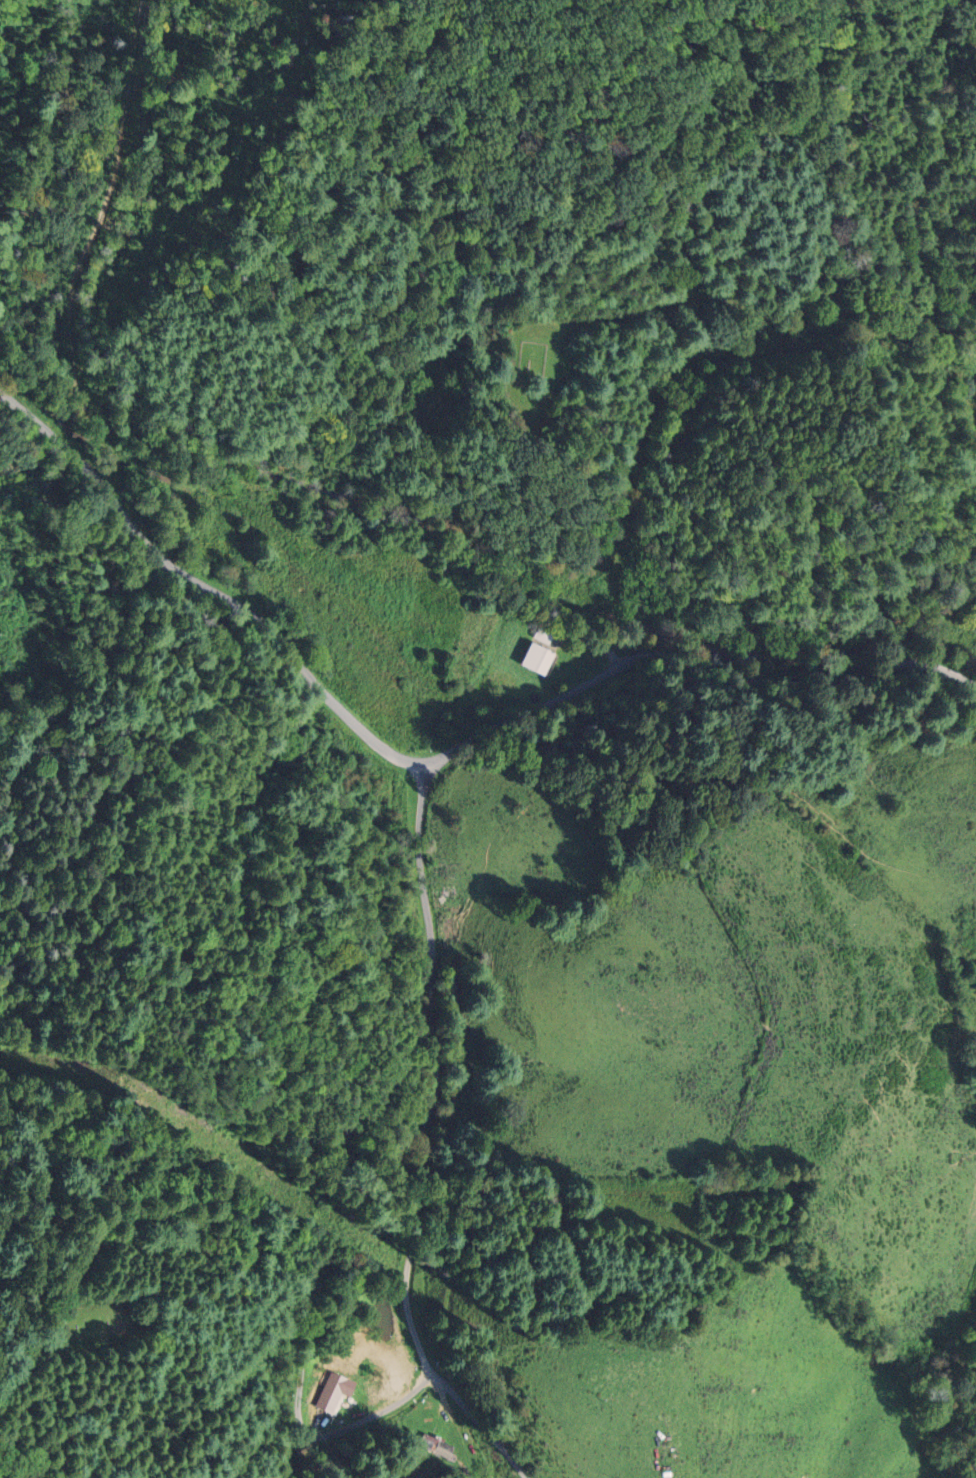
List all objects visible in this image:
building: (541, 634)
building: (533, 660)
road: (433, 762)
road: (423, 1142)
road: (294, 1275)
building: (332, 1394)
building: (436, 1447)

